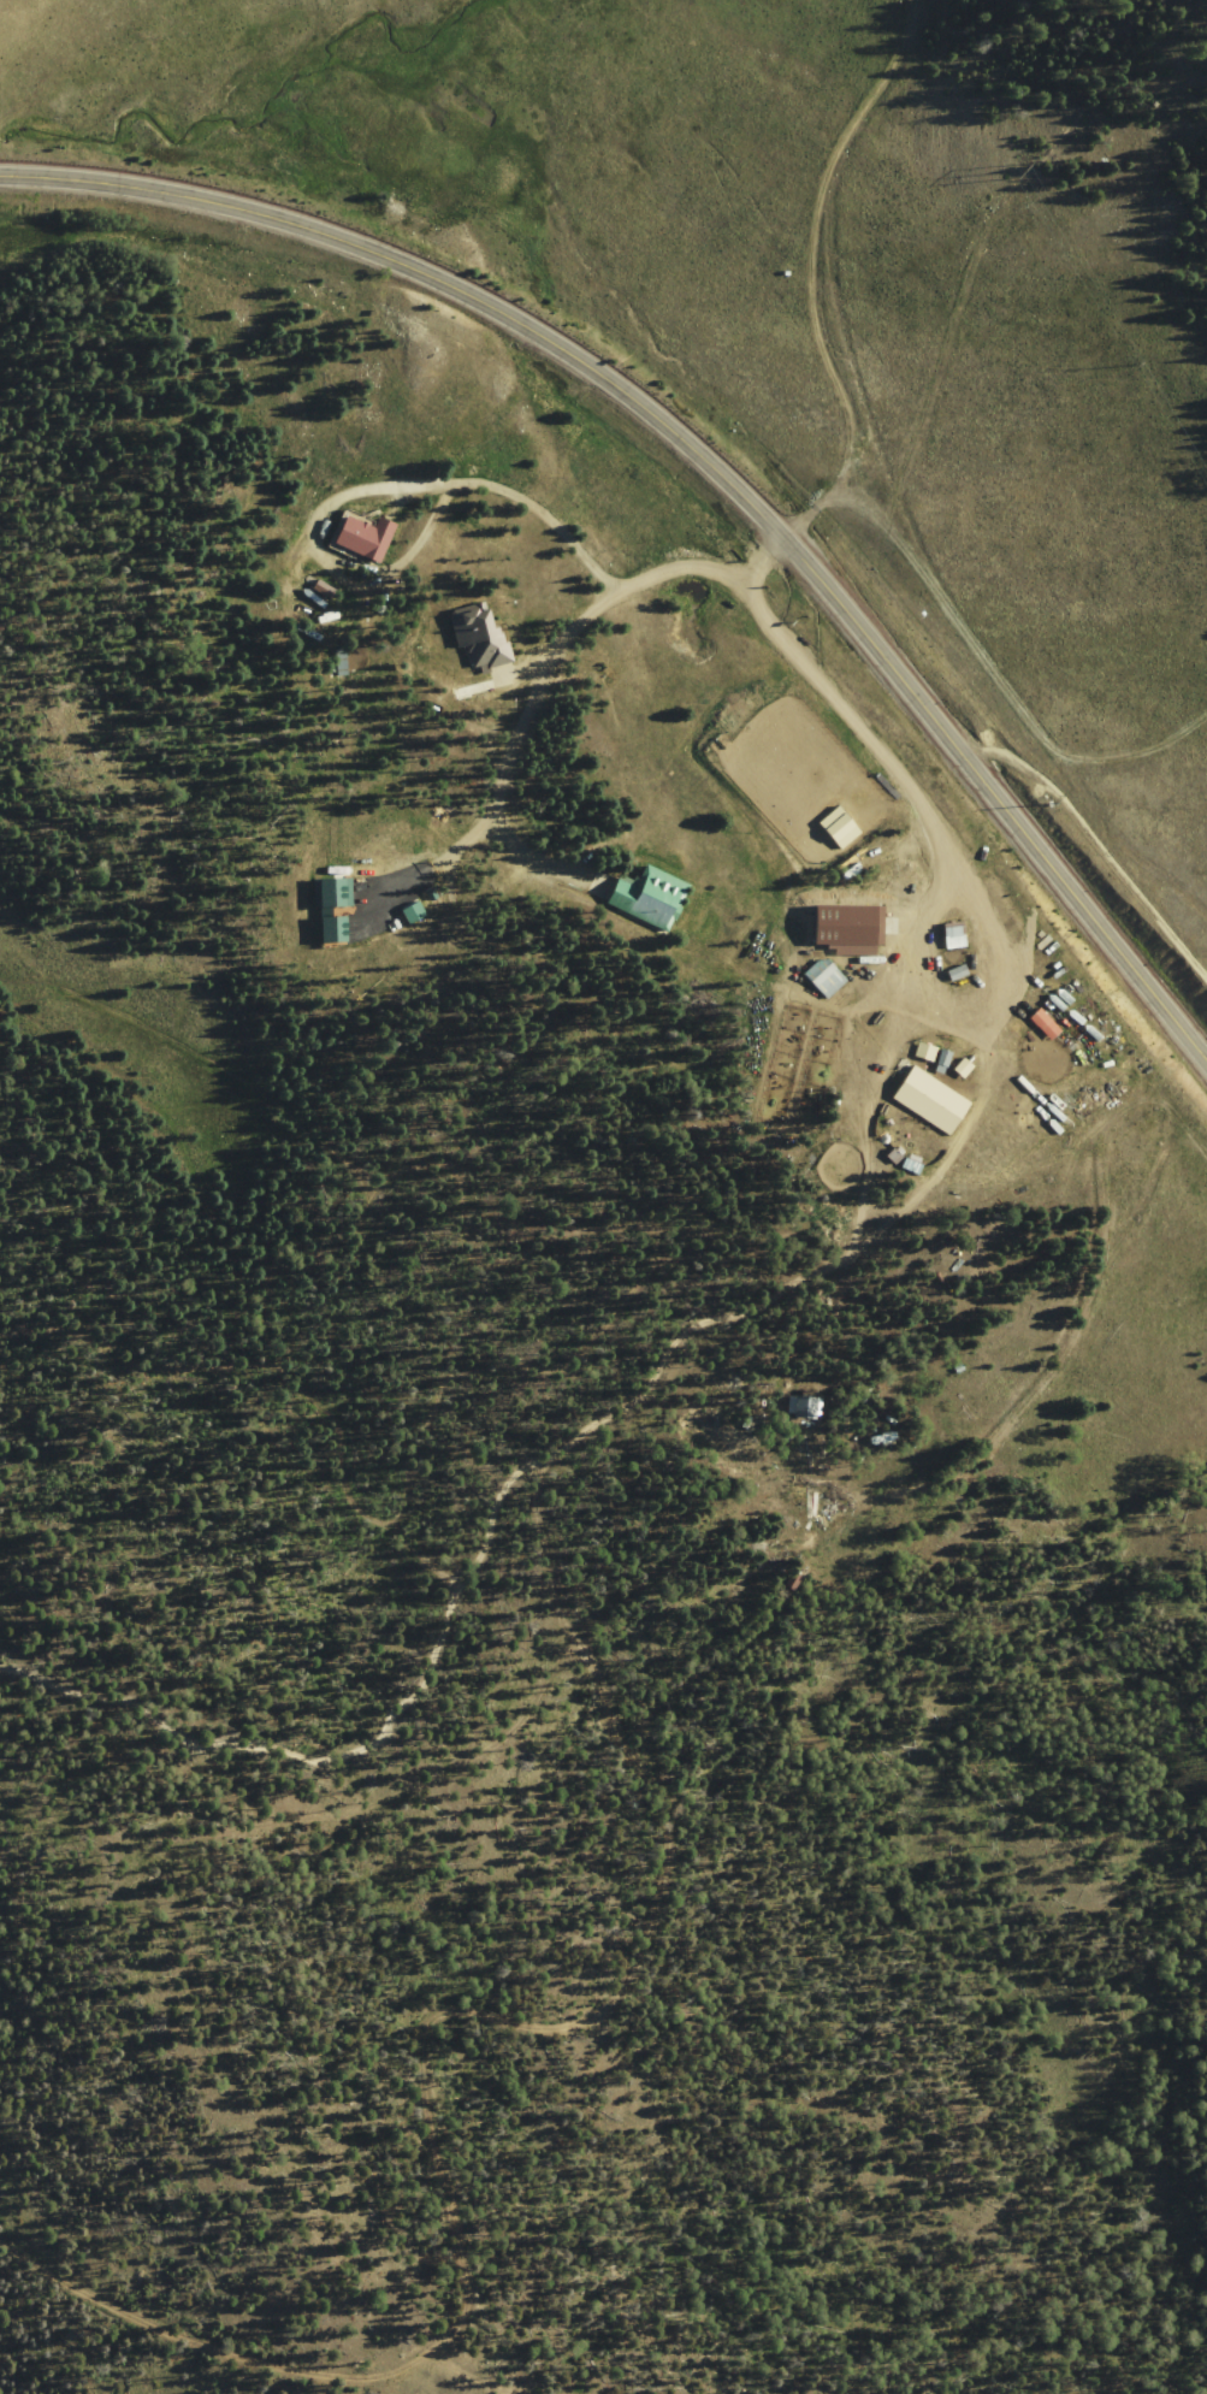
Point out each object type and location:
road: (913, 441)
road: (706, 465)
building: (368, 536)
road: (918, 597)
building: (481, 633)
building: (651, 895)
building: (415, 911)
building: (337, 928)
building: (955, 934)
building: (827, 976)
building: (1046, 1023)
building: (925, 1050)
building: (933, 1099)
road: (342, 1123)
road: (1177, 1186)
road: (596, 1298)
road: (167, 1335)
building: (809, 1406)
road: (279, 2365)

